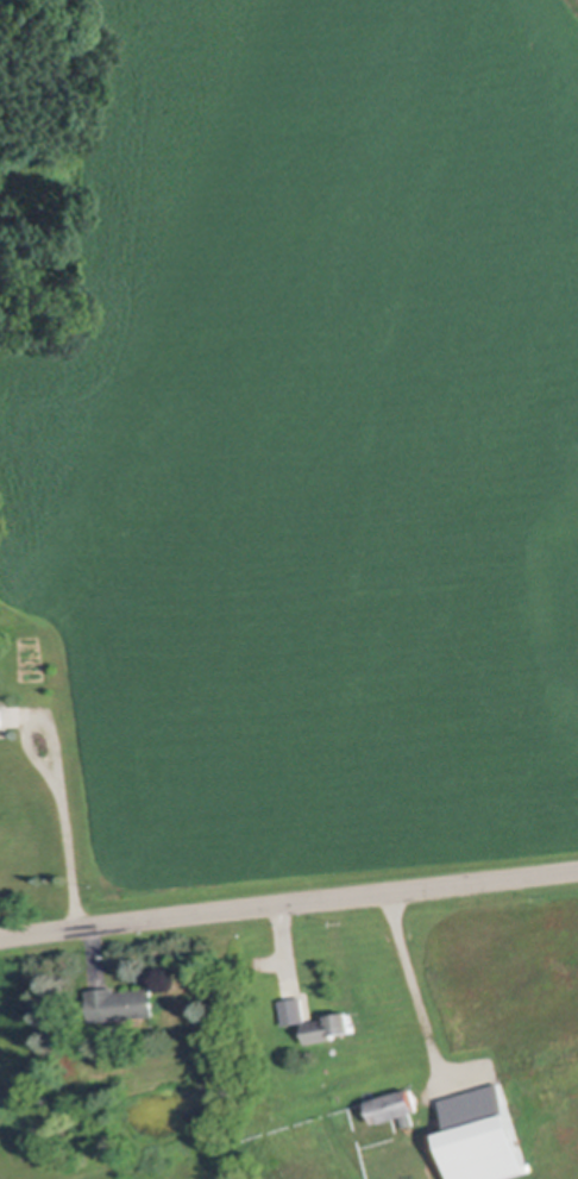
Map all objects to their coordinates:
building: (2, 715)
road: (59, 779)
road: (288, 901)
road: (414, 983)
building: (125, 1002)
building: (296, 1009)
building: (333, 1024)
building: (398, 1105)
building: (484, 1136)

